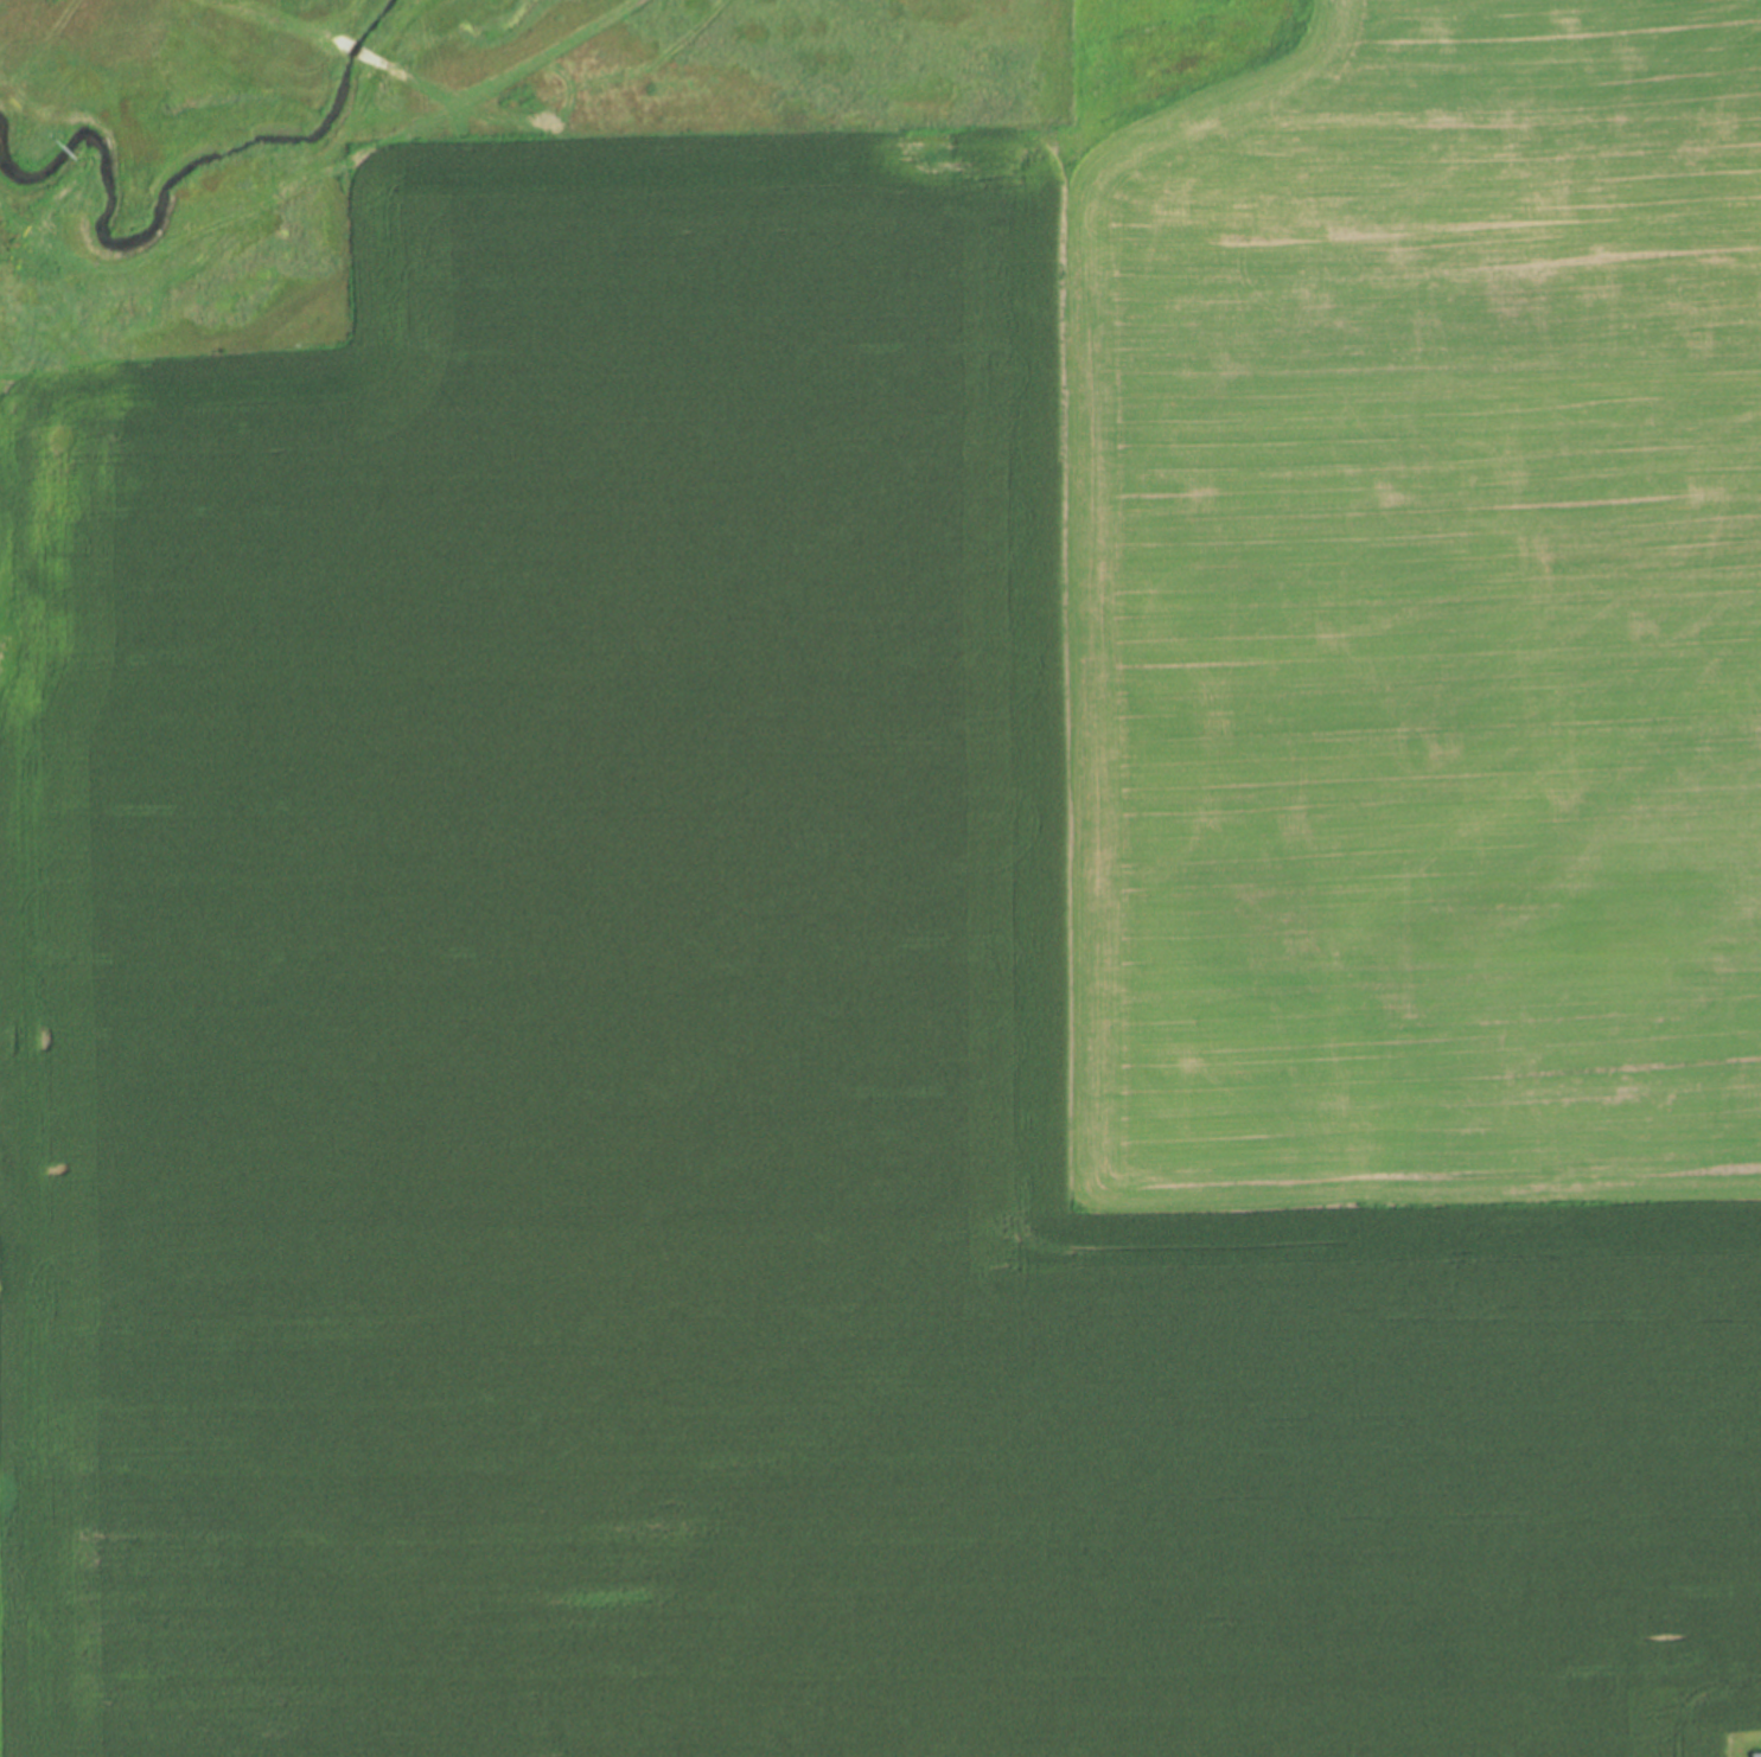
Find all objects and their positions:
building: (1757, 1755)

